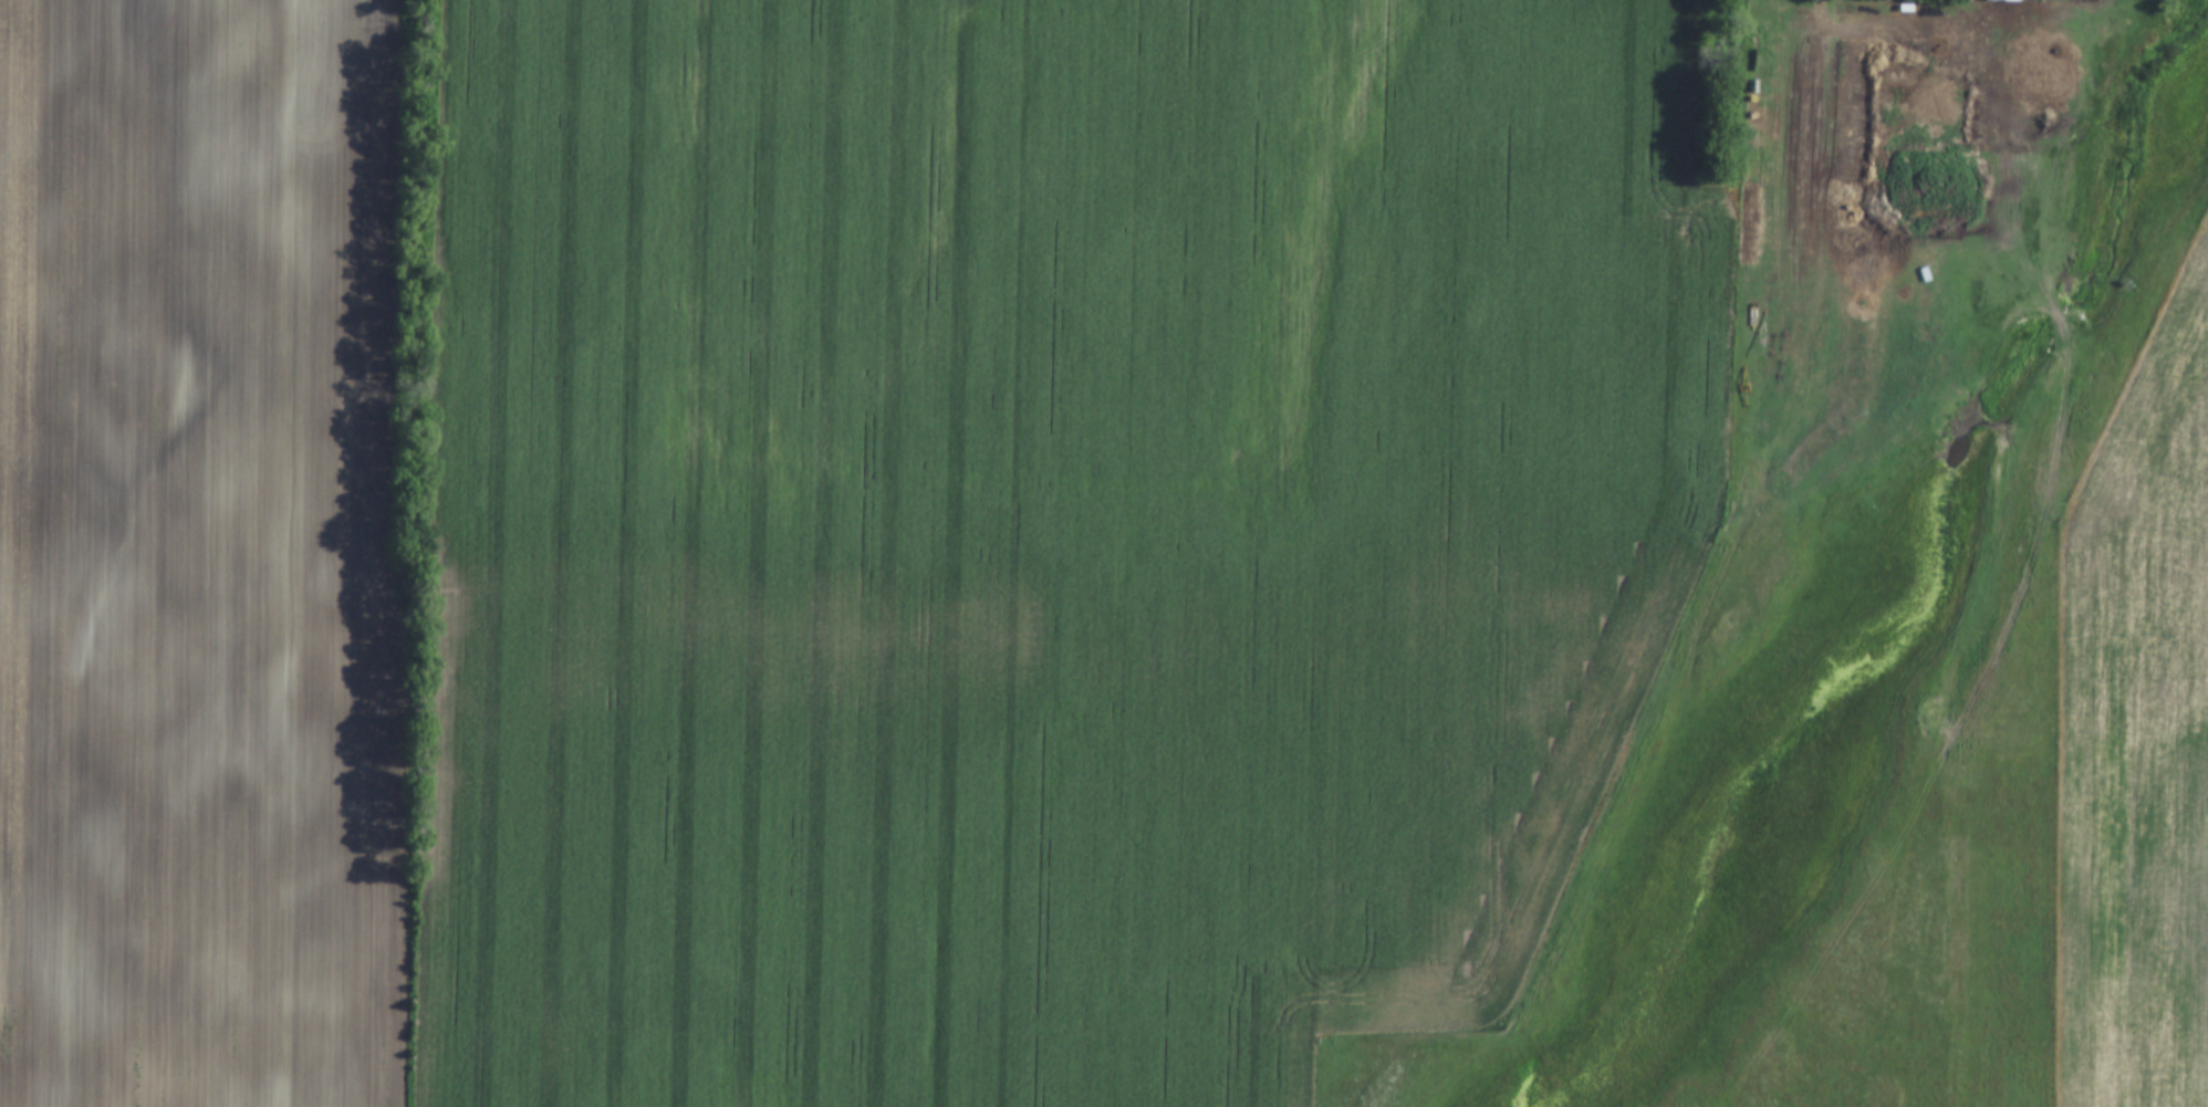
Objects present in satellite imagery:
building: (2004, 0)
building: (1751, 164)

